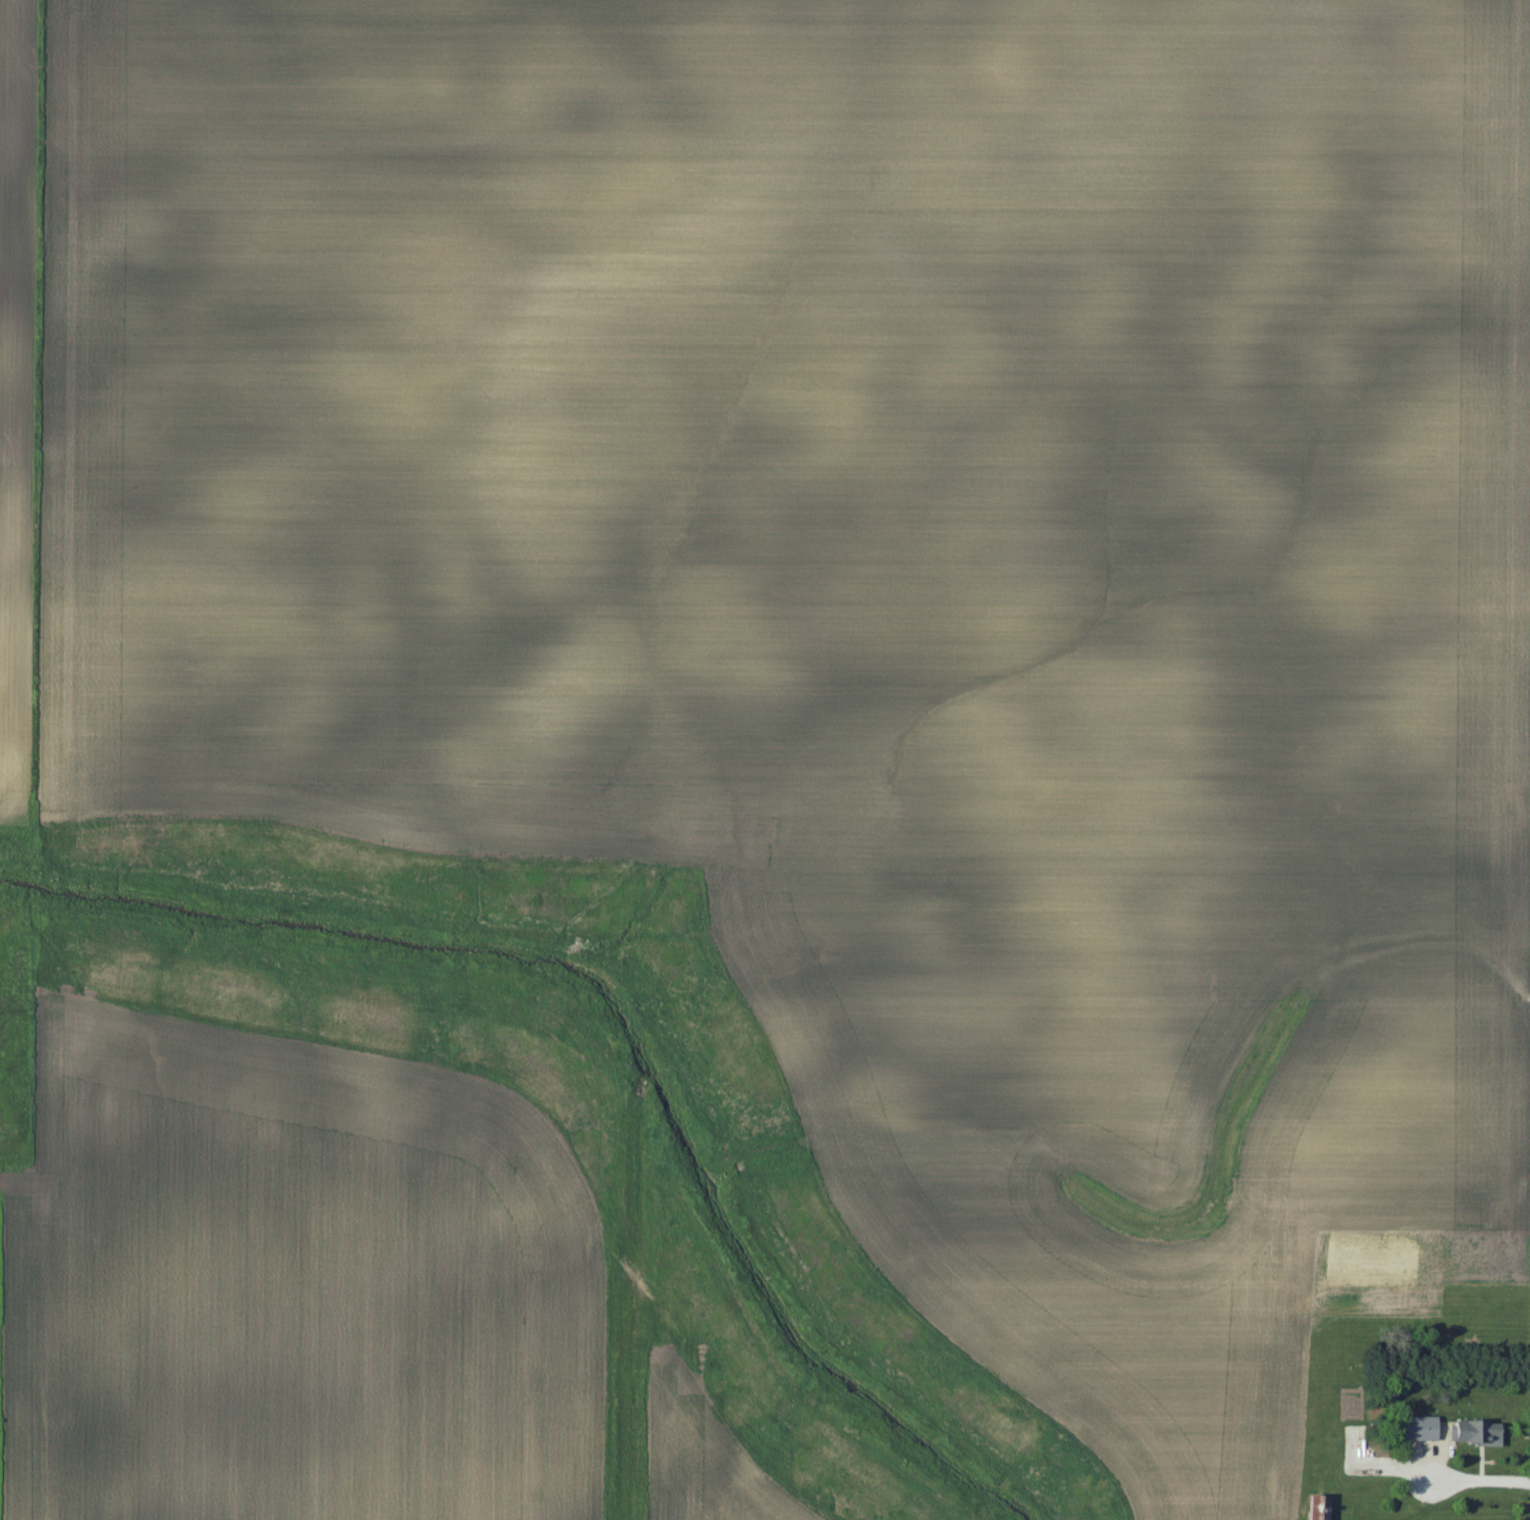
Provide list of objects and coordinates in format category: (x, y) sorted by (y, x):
building: (1422, 1429)
road: (1441, 1461)

